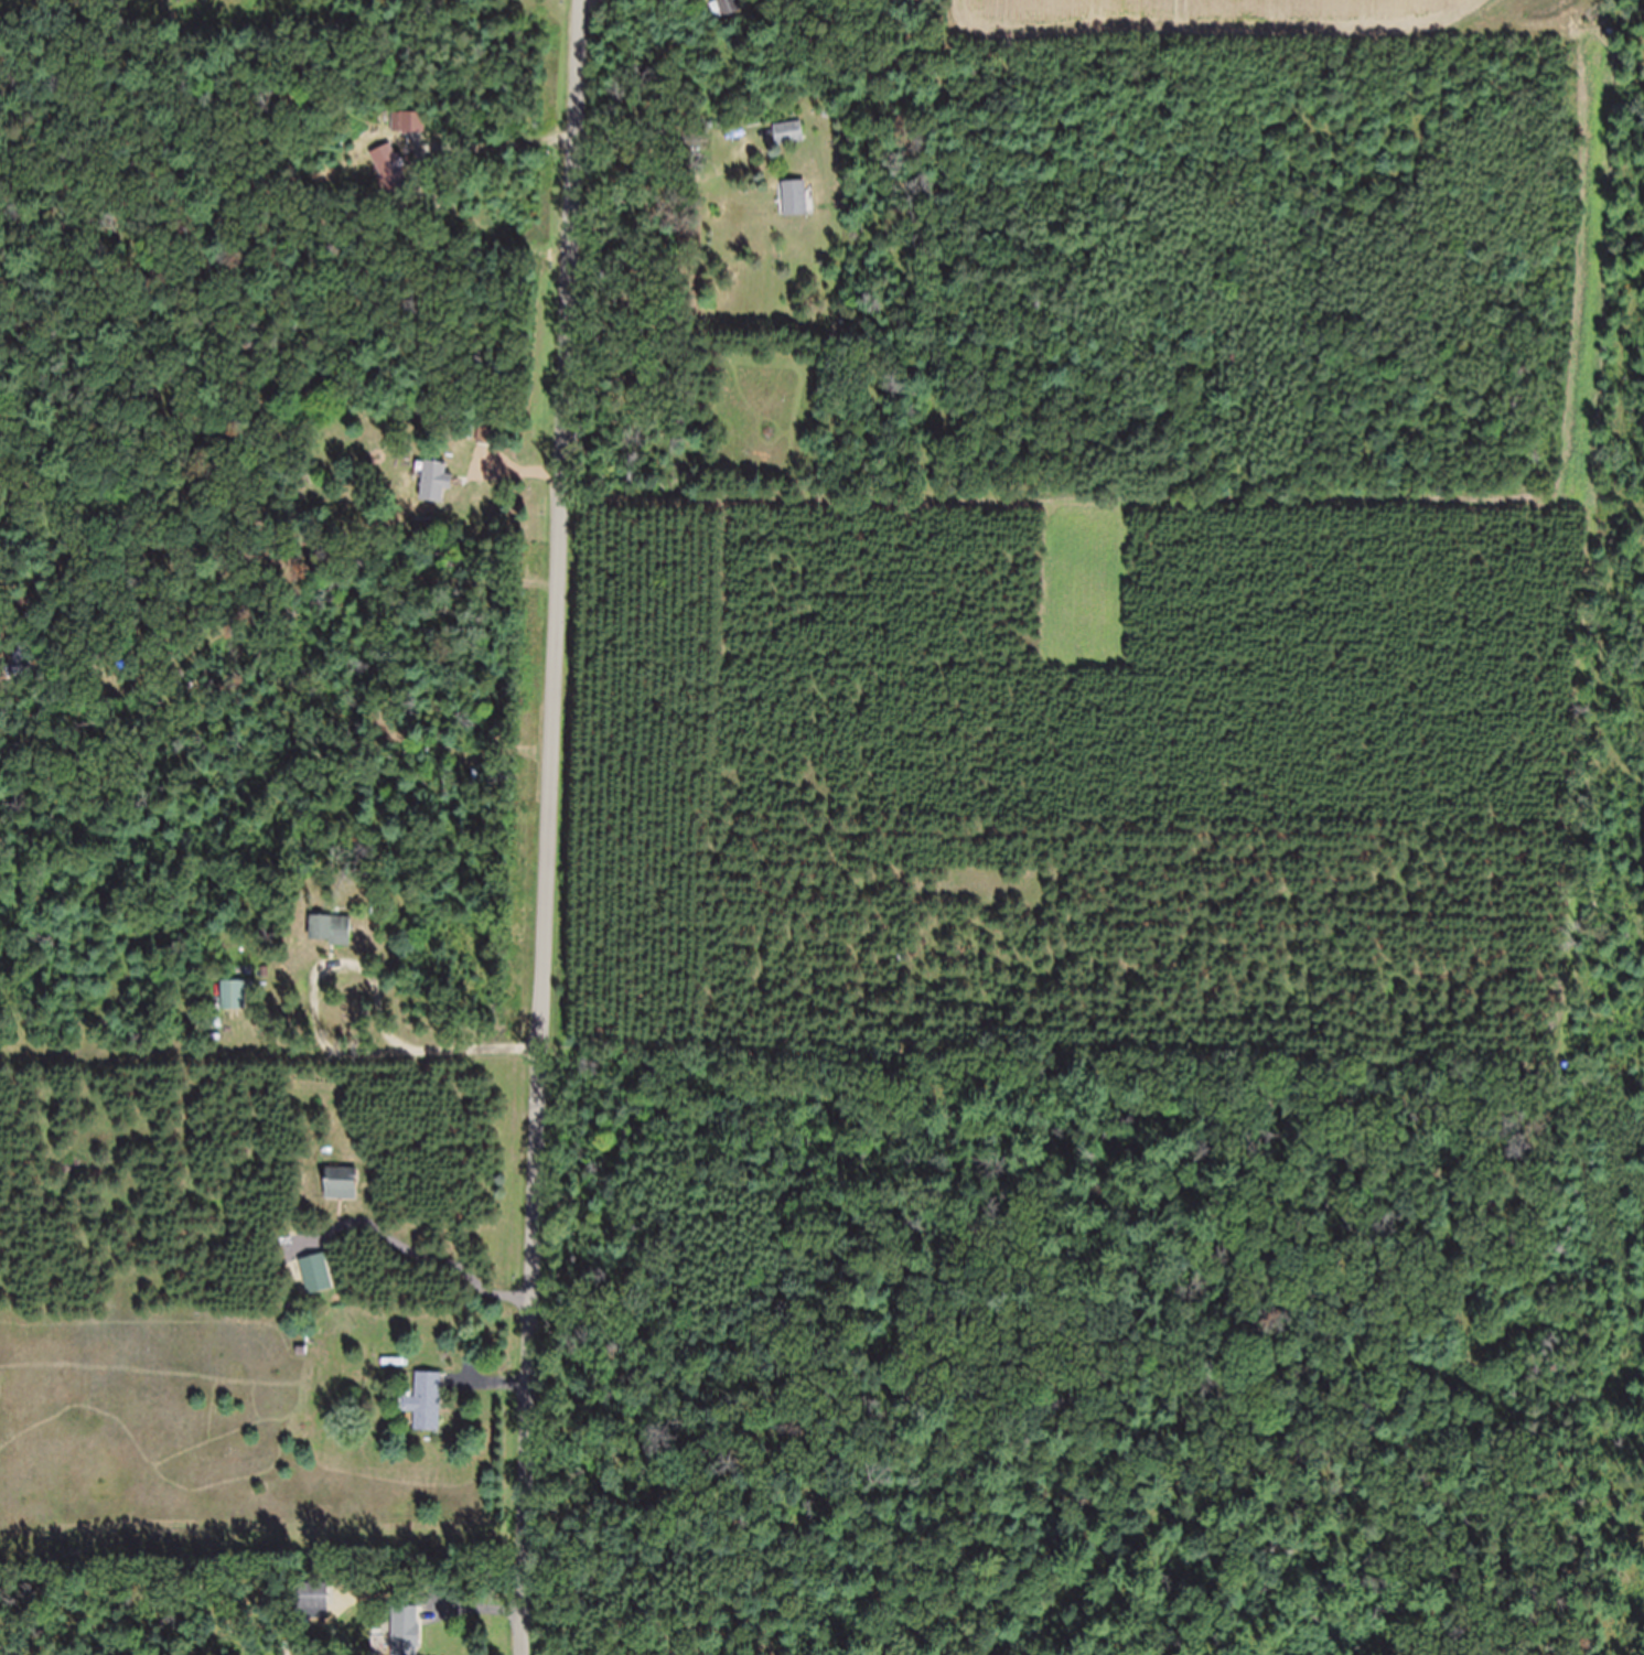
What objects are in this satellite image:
building: (727, 19)
building: (413, 136)
building: (791, 146)
building: (391, 179)
building: (795, 211)
building: (432, 493)
road: (540, 827)
building: (330, 941)
building: (236, 1007)
building: (341, 1195)
building: (426, 1414)
building: (318, 1609)
building: (407, 1636)

